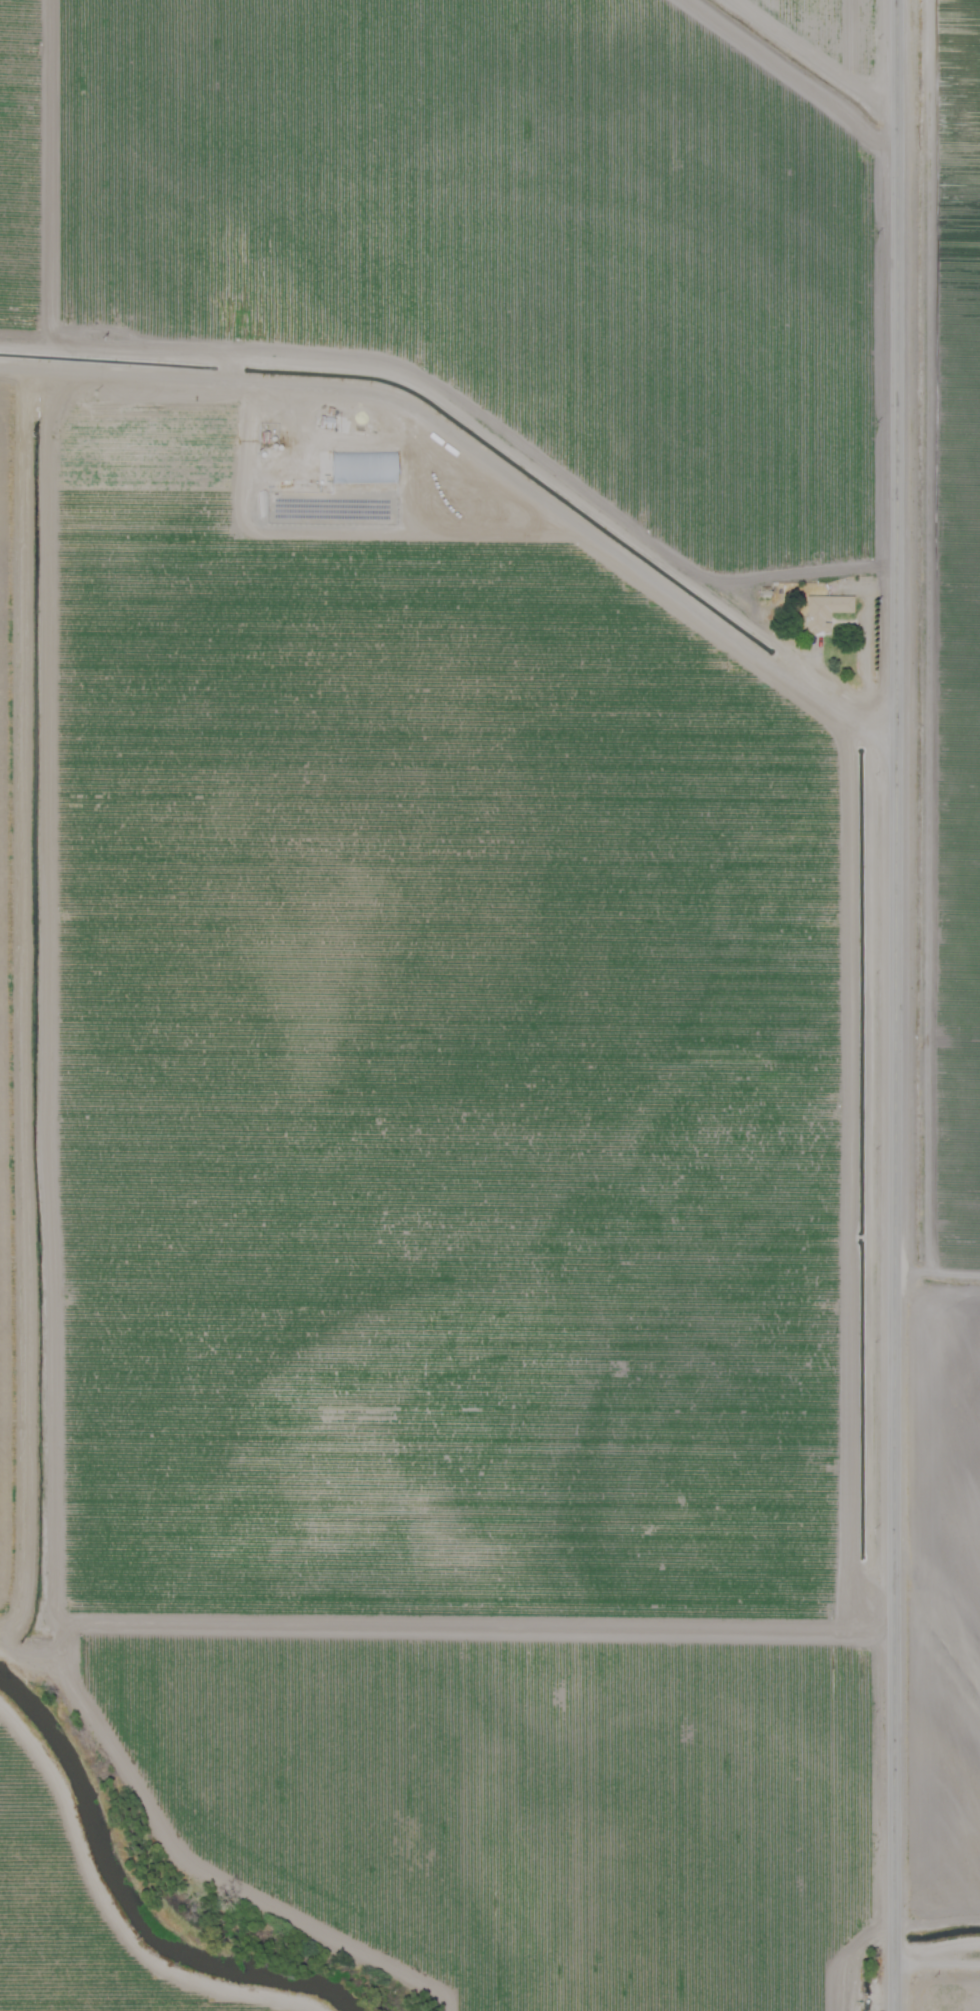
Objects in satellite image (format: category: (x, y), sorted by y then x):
building: (325, 423)
road: (485, 461)
building: (342, 466)
building: (825, 611)
crop: (490, 1005)
road: (898, 1005)
road: (469, 1626)
road: (933, 1915)
road: (932, 1949)

